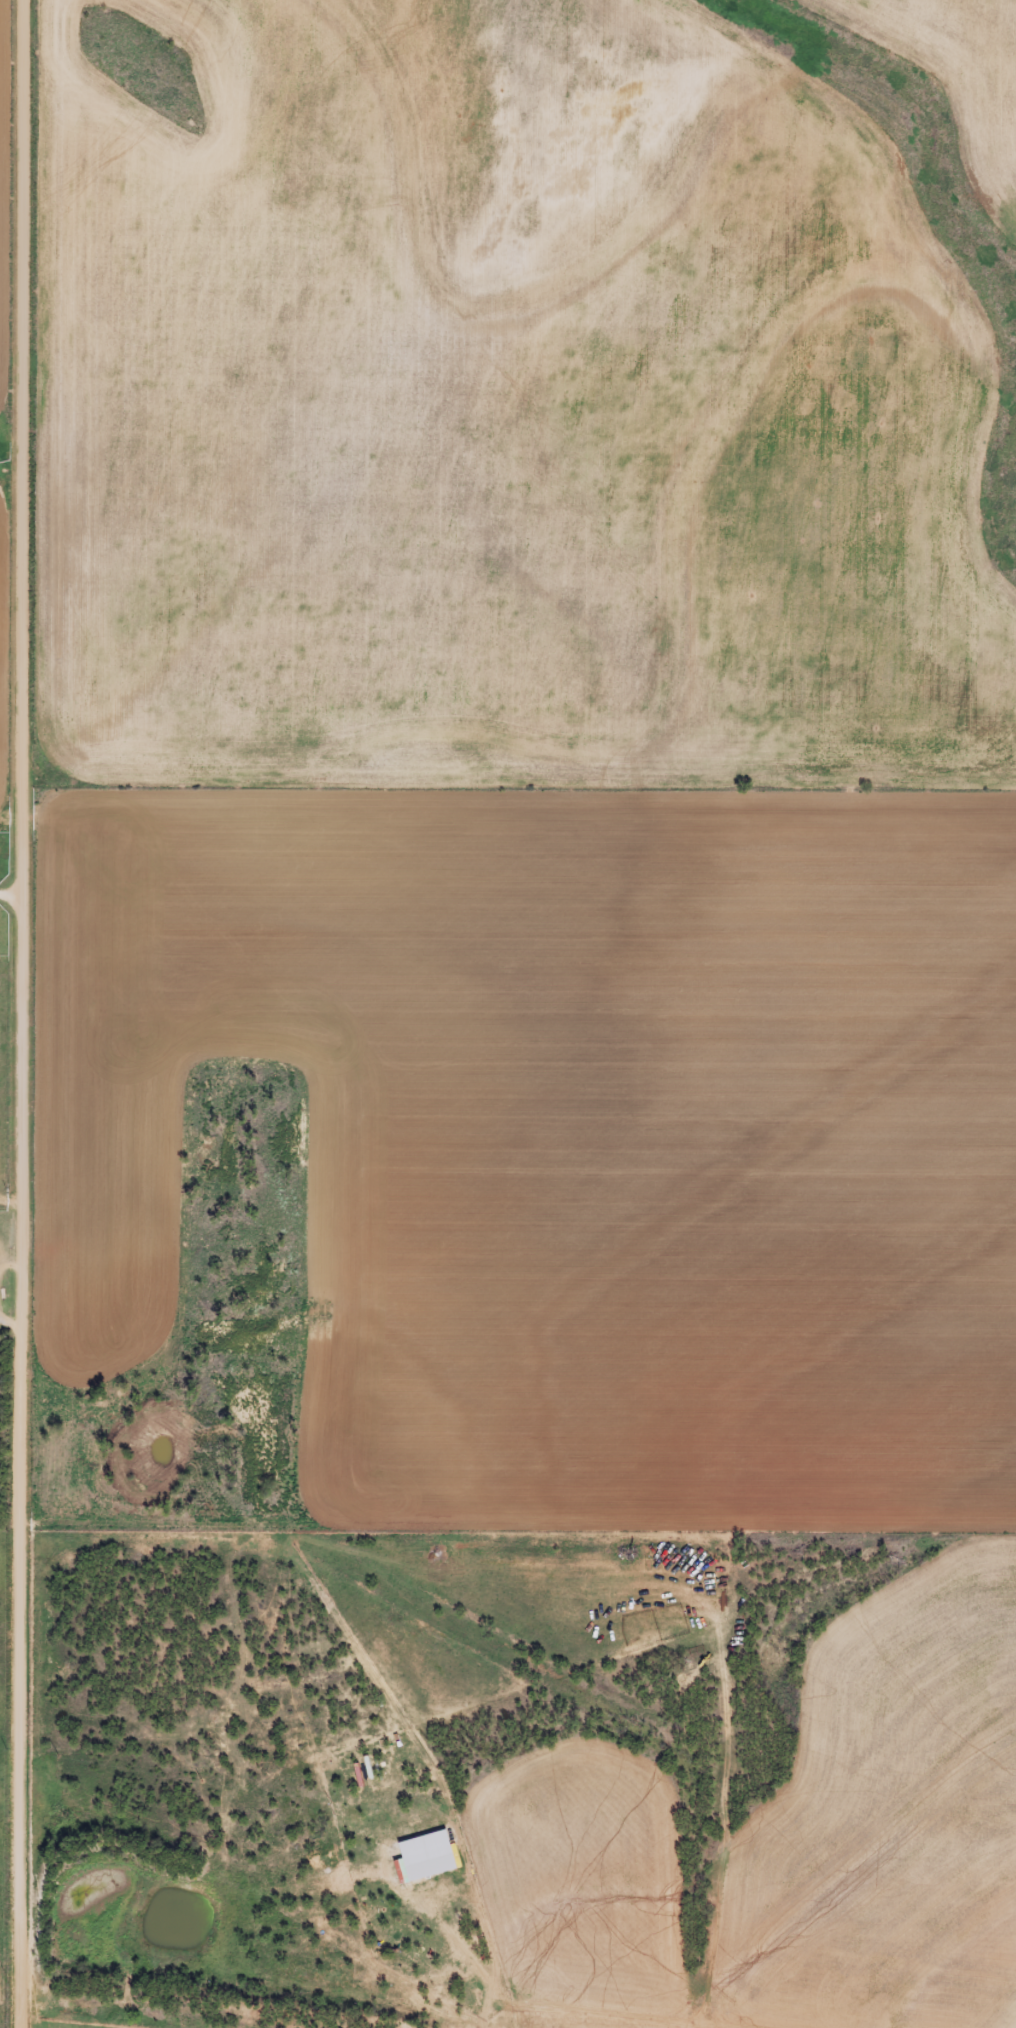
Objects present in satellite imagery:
road: (24, 1014)
railway: (245, 1996)

